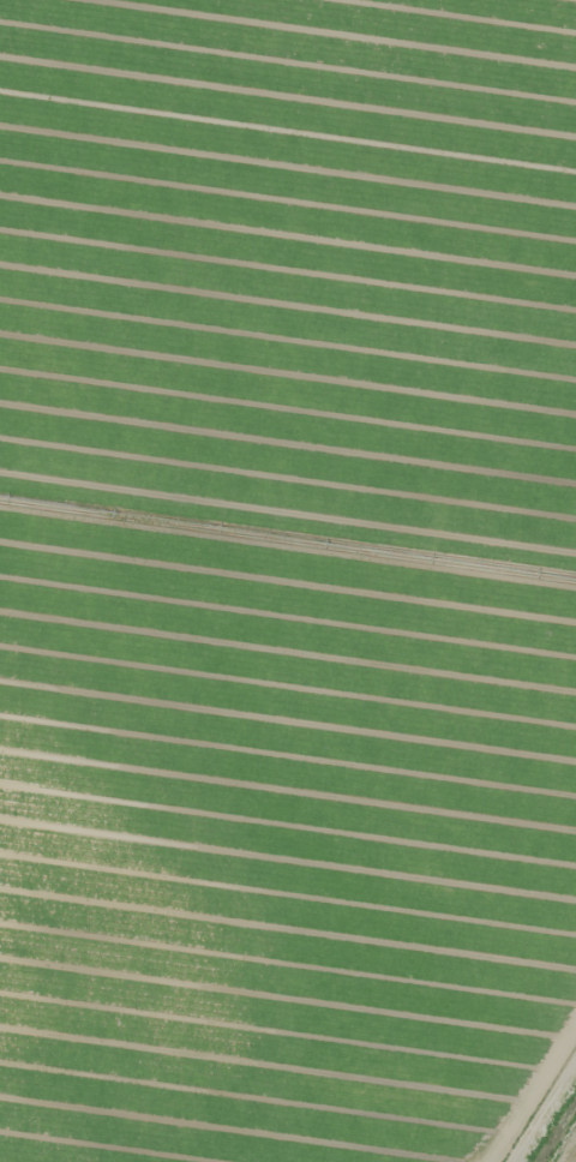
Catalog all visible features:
road: (532, 1090)

